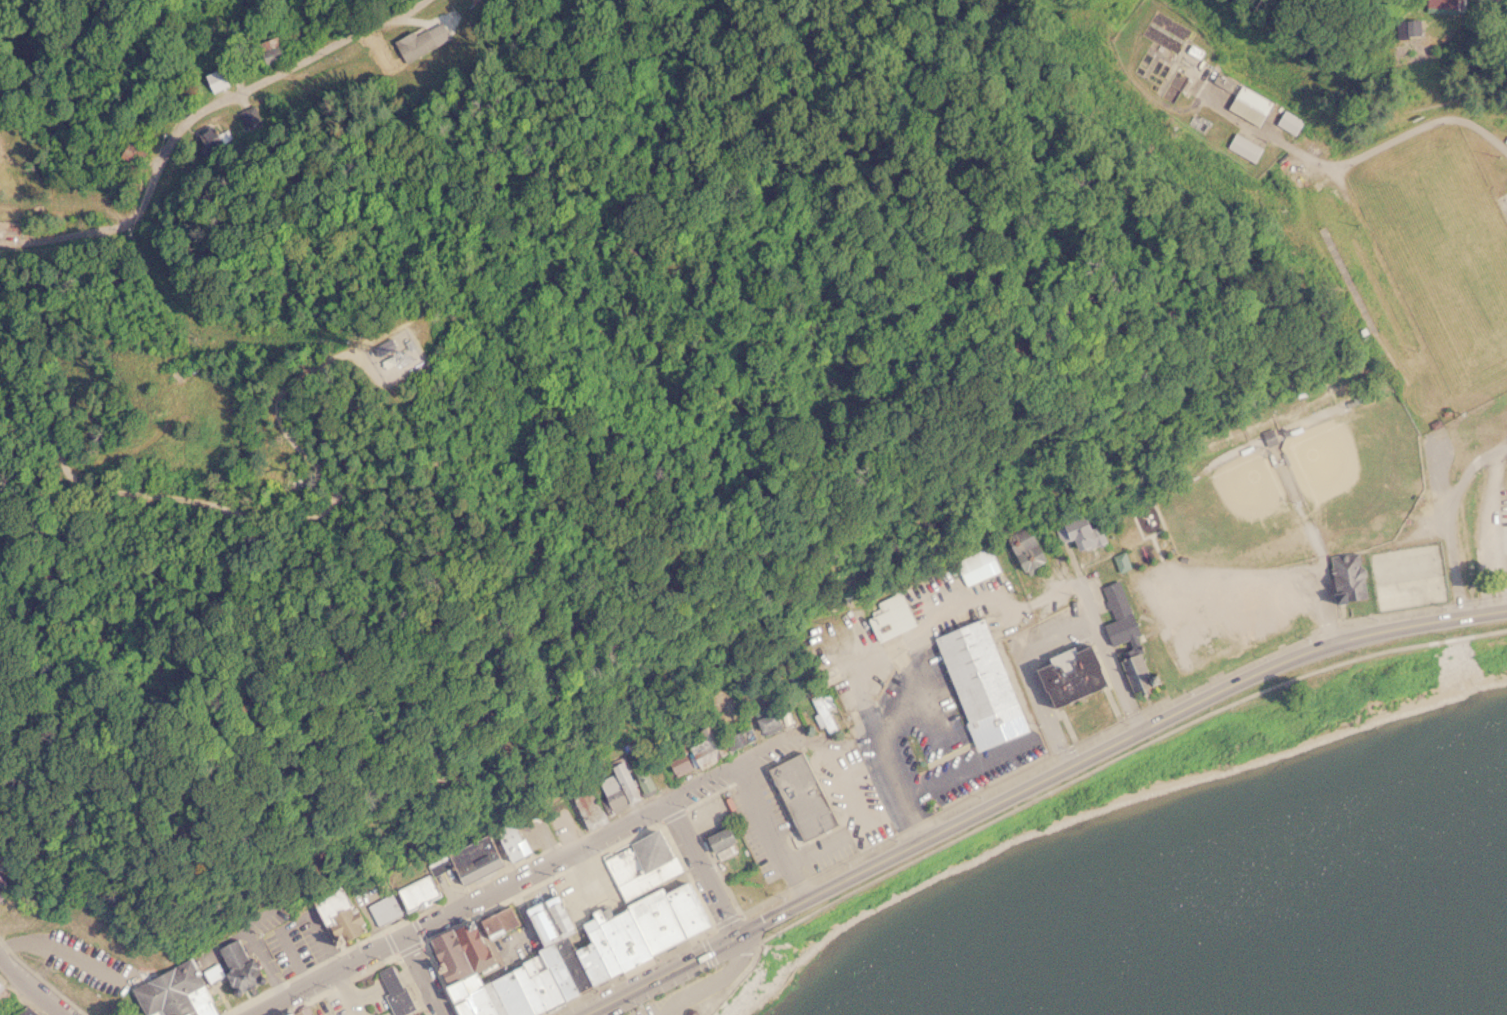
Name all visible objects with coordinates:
building: (1434, 7)
building: (1398, 29)
building: (406, 51)
building: (269, 52)
building: (214, 81)
building: (1247, 105)
building: (1287, 122)
road: (178, 134)
building: (227, 136)
building: (1244, 147)
building: (131, 153)
building: (1505, 203)
park: (1444, 249)
road: (356, 269)
building: (378, 344)
park: (1357, 474)
road: (1446, 515)
park: (1233, 516)
building: (1078, 532)
park: (1141, 536)
park: (1281, 549)
building: (1026, 554)
building: (976, 566)
building: (1343, 576)
building: (889, 616)
building: (1124, 635)
road: (1108, 658)
building: (830, 671)
building: (1063, 677)
building: (975, 682)
building: (823, 709)
building: (766, 722)
building: (707, 746)
road: (1078, 775)
building: (623, 784)
road: (1034, 784)
building: (800, 794)
building: (585, 807)
road: (599, 838)
building: (510, 841)
building: (463, 860)
road: (700, 870)
building: (400, 898)
building: (334, 911)
building: (491, 921)
building: (644, 921)
road: (319, 972)
road: (422, 975)
road: (705, 982)
road: (30, 988)
building: (176, 991)
parking lot: (694, 991)
building: (397, 1000)
building: (20, 1011)
building: (298, 1011)
building: (33, 1014)
building: (34, 1014)
building: (419, 1014)

